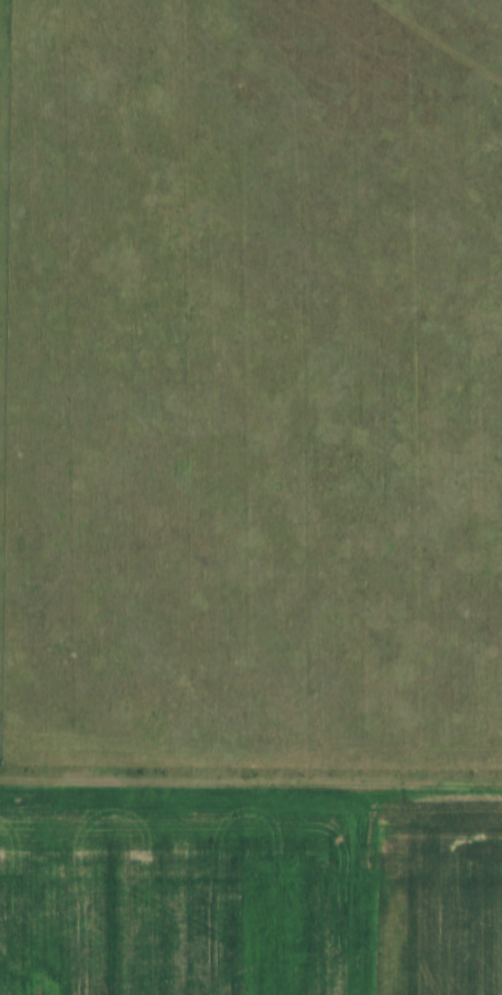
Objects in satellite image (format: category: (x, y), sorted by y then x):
road: (250, 788)

